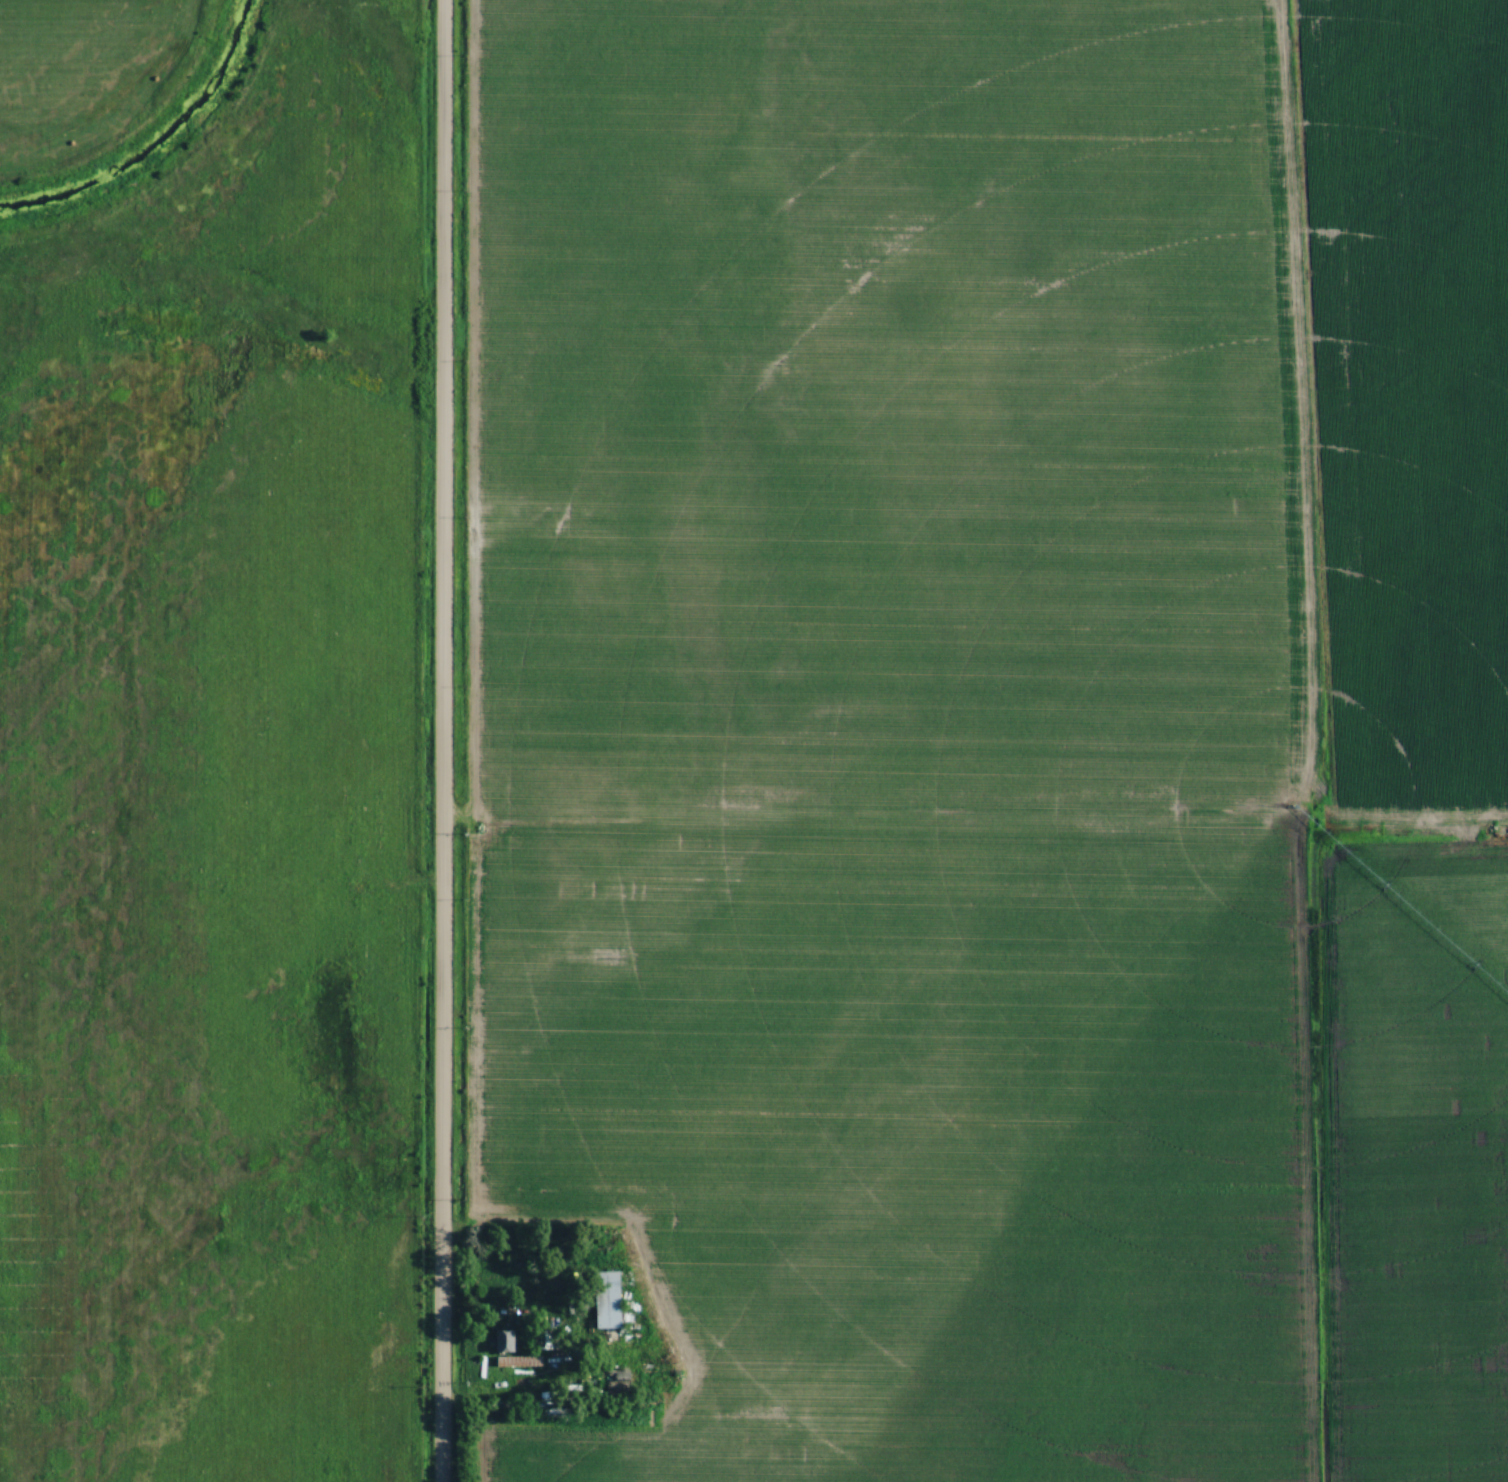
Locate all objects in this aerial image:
road: (442, 741)
building: (610, 1299)
building: (505, 1341)
building: (519, 1361)
building: (619, 1381)
road: (504, 1400)

